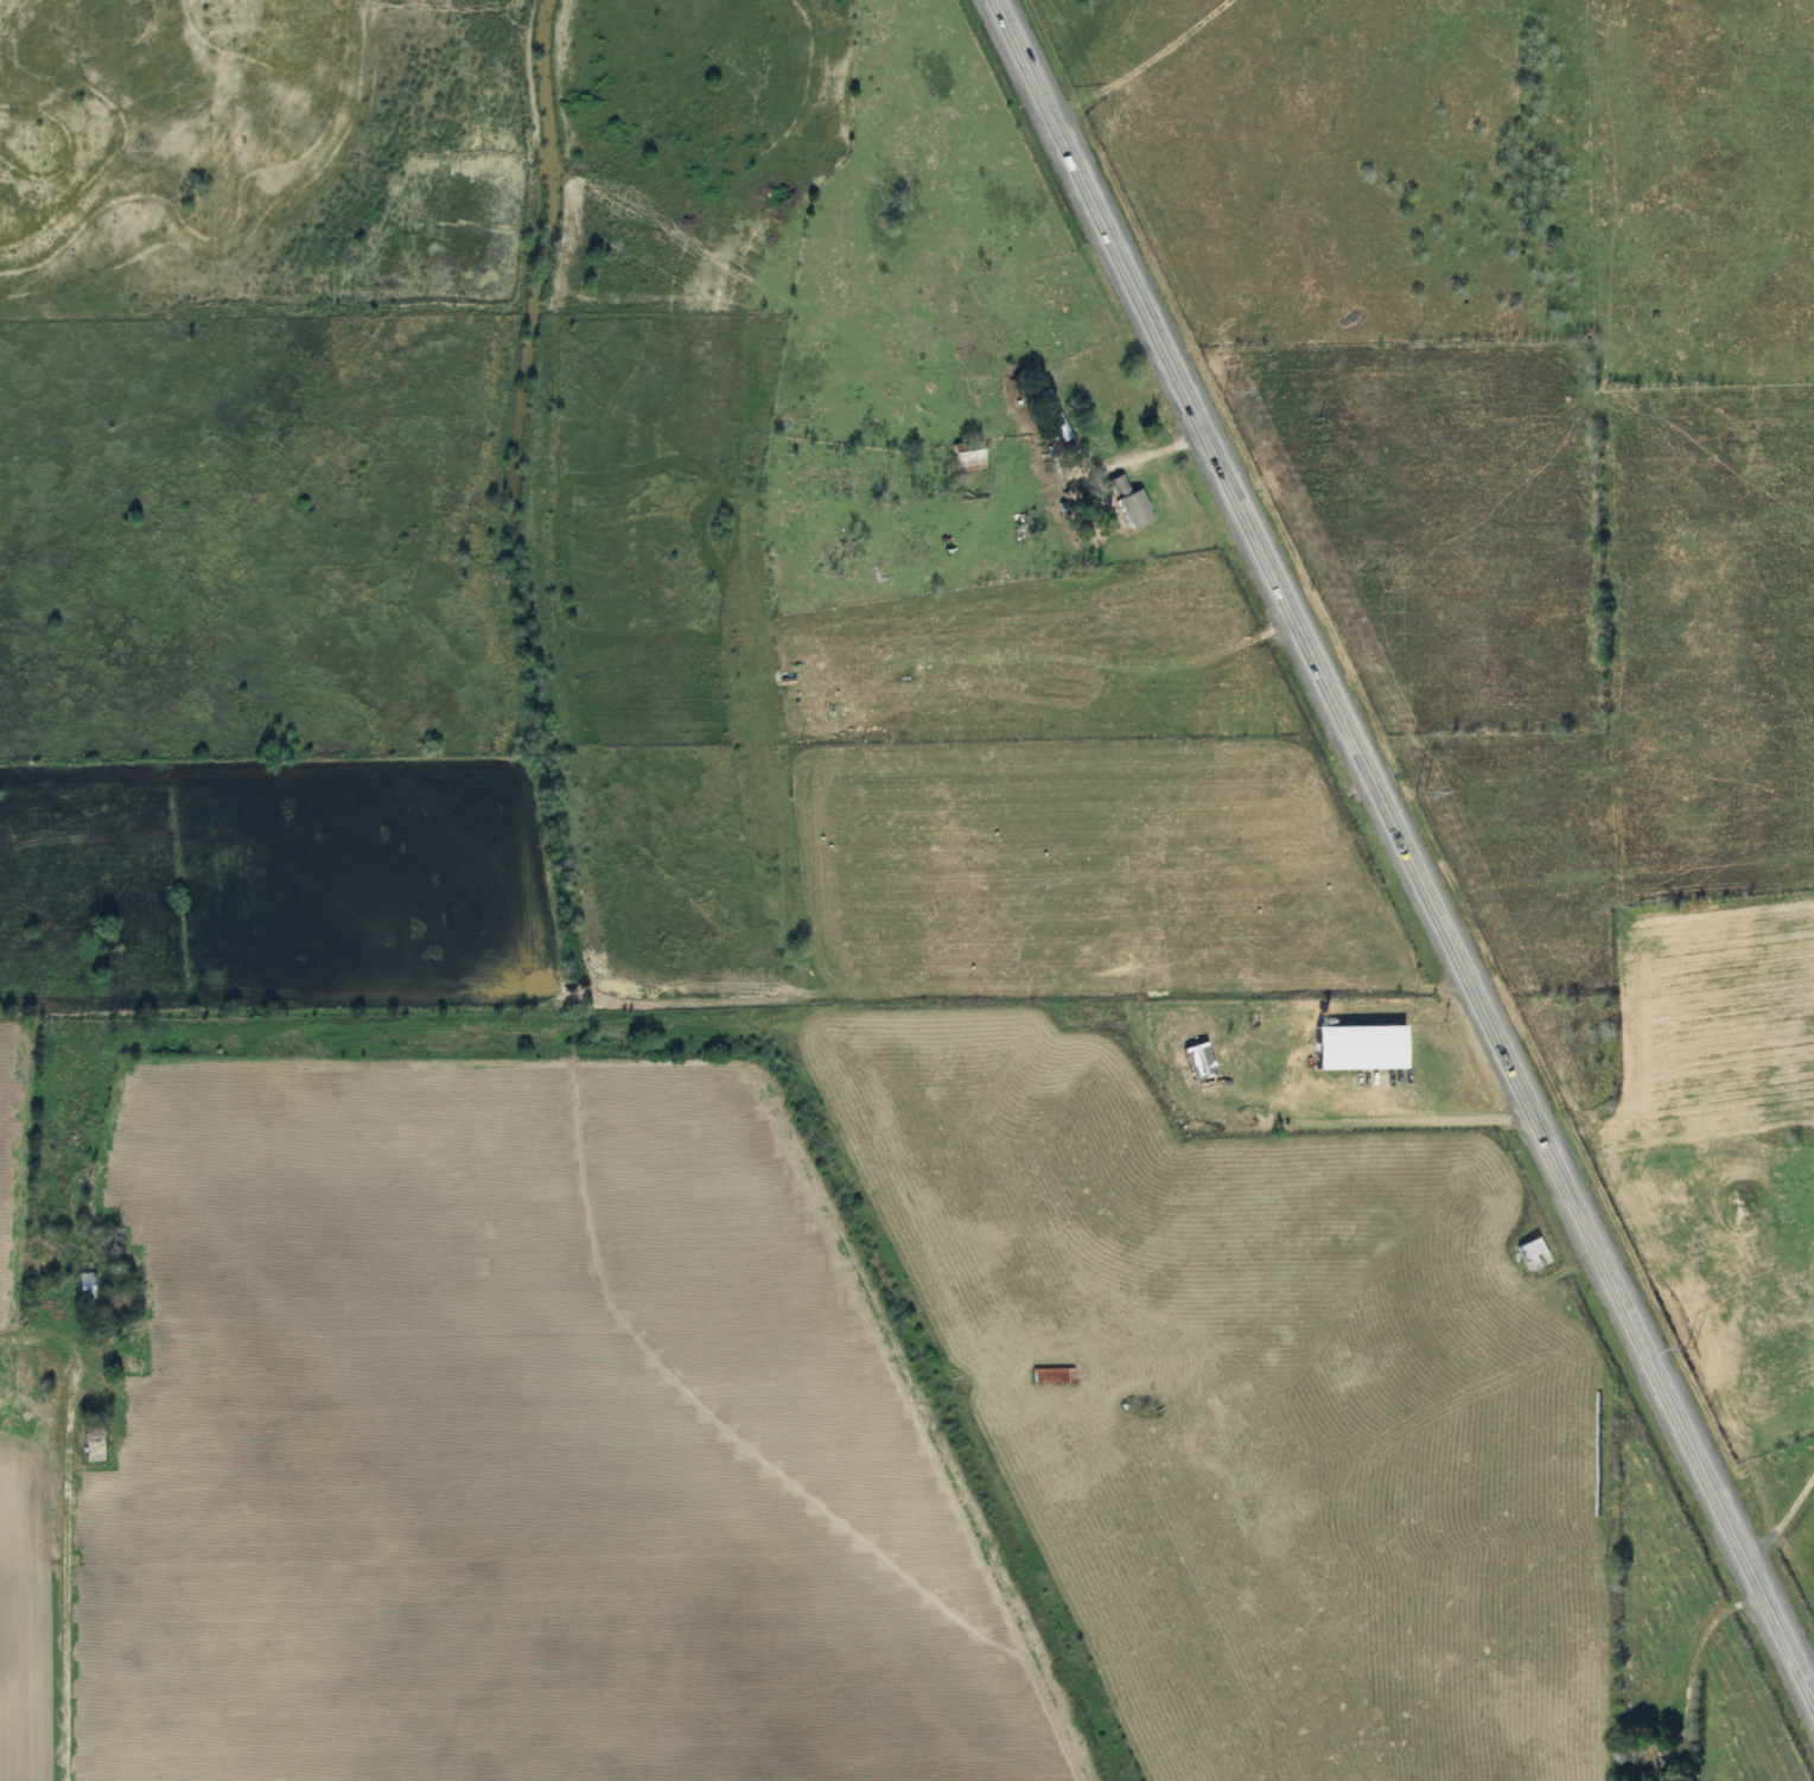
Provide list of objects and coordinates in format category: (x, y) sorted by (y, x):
power tower: (1228, 389)
building: (956, 456)
building: (1107, 484)
building: (1125, 508)
power tower: (1413, 776)
road: (1402, 850)
building: (1186, 1063)
building: (1522, 1254)
road: (1565, 1266)
building: (77, 1285)
power tower: (1689, 1348)
building: (1043, 1375)
building: (82, 1443)
building: (1643, 1764)

